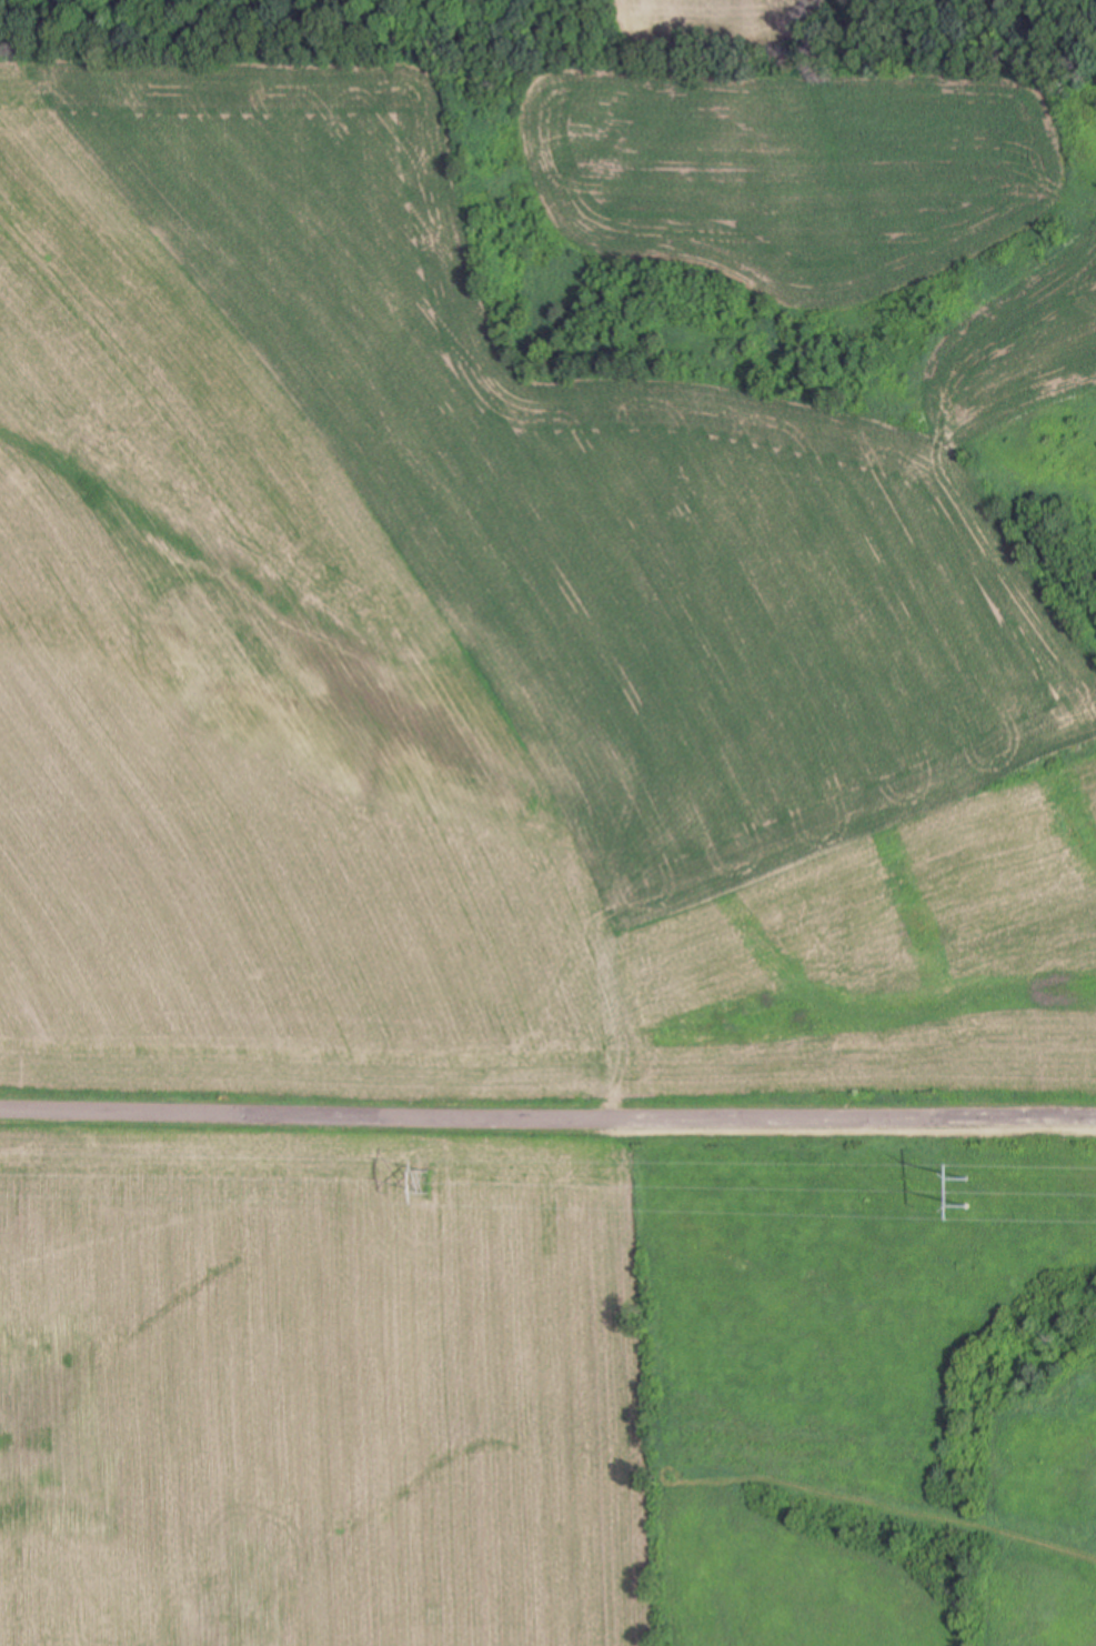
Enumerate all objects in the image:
road: (547, 1116)
power tower: (430, 1182)
power tower: (968, 1192)

